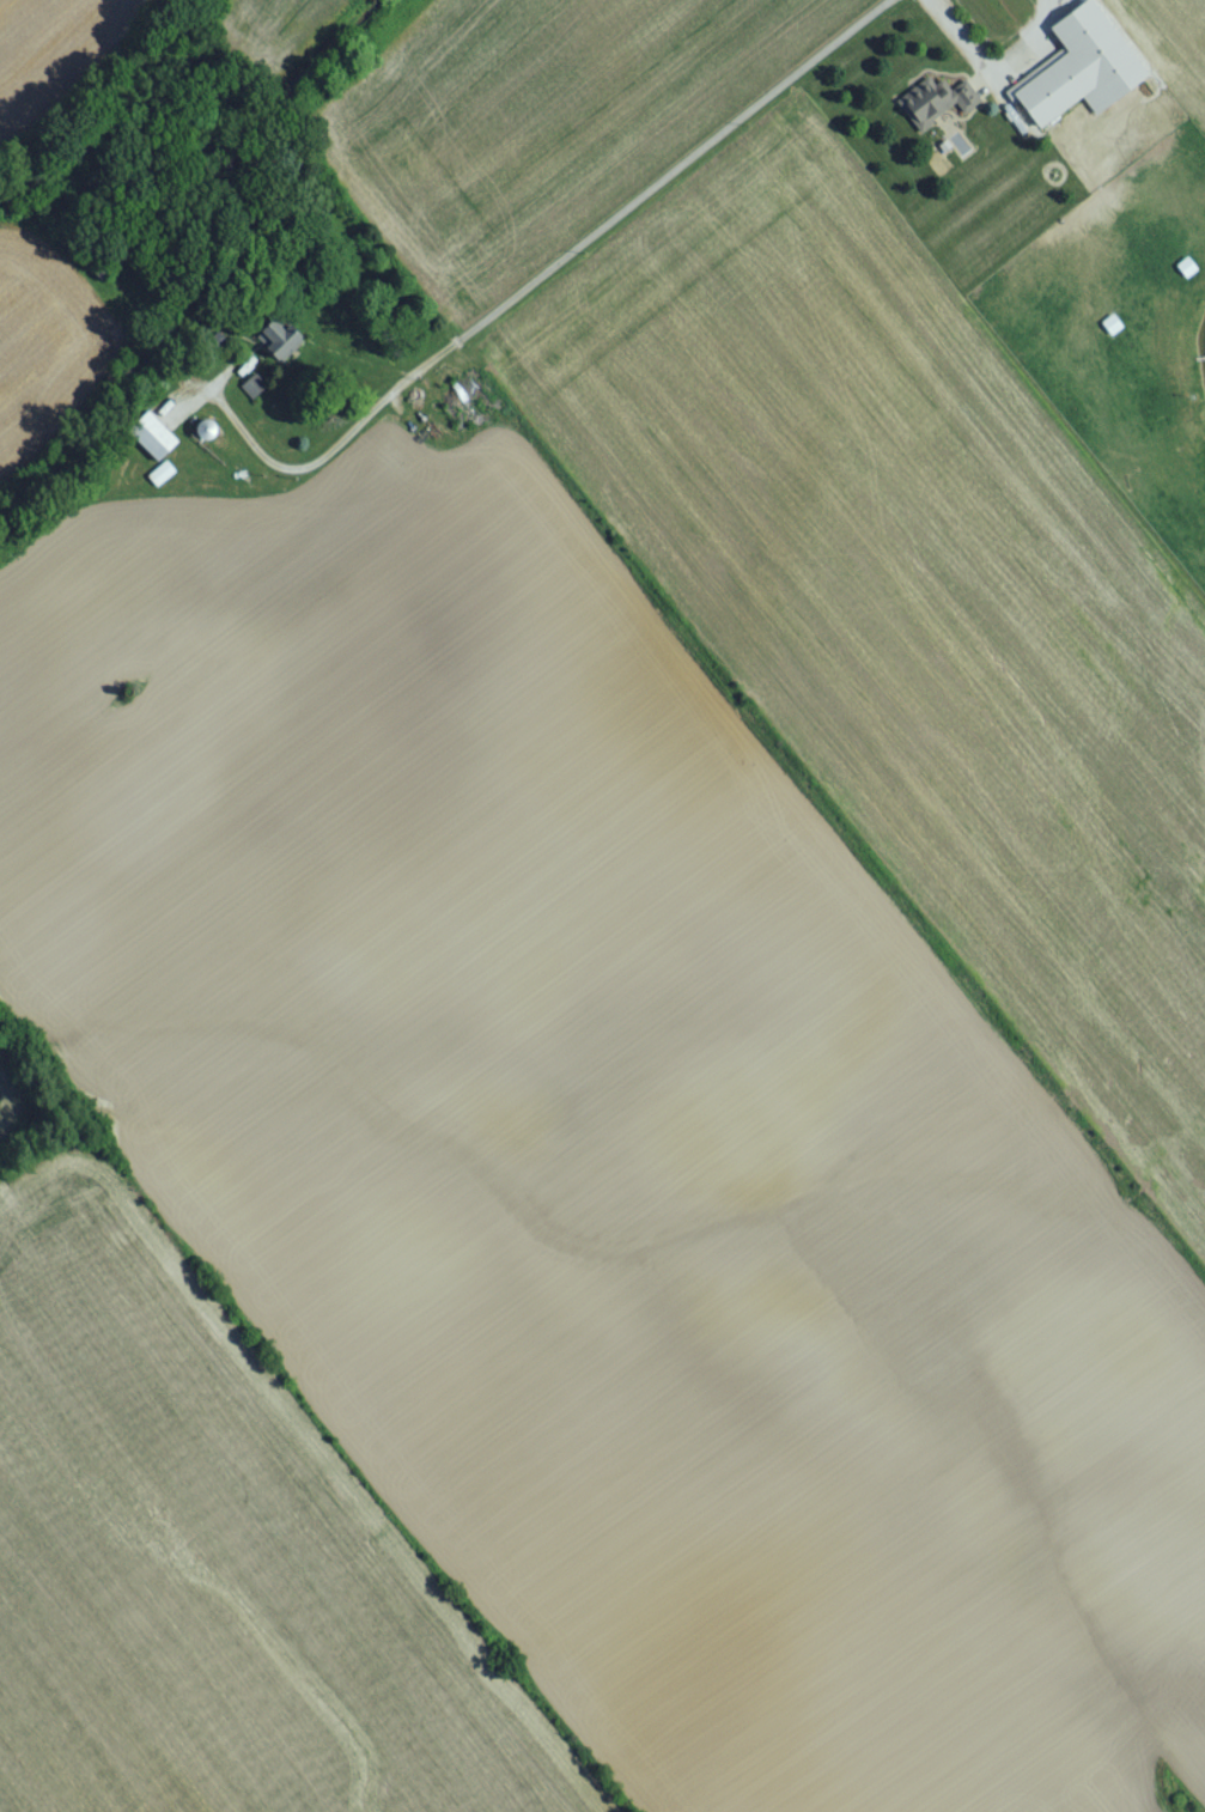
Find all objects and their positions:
road: (997, 67)
building: (1084, 74)
road: (542, 261)
building: (1188, 274)
building: (1113, 332)
building: (280, 345)
building: (464, 414)
building: (208, 437)
building: (438, 442)
building: (156, 444)

